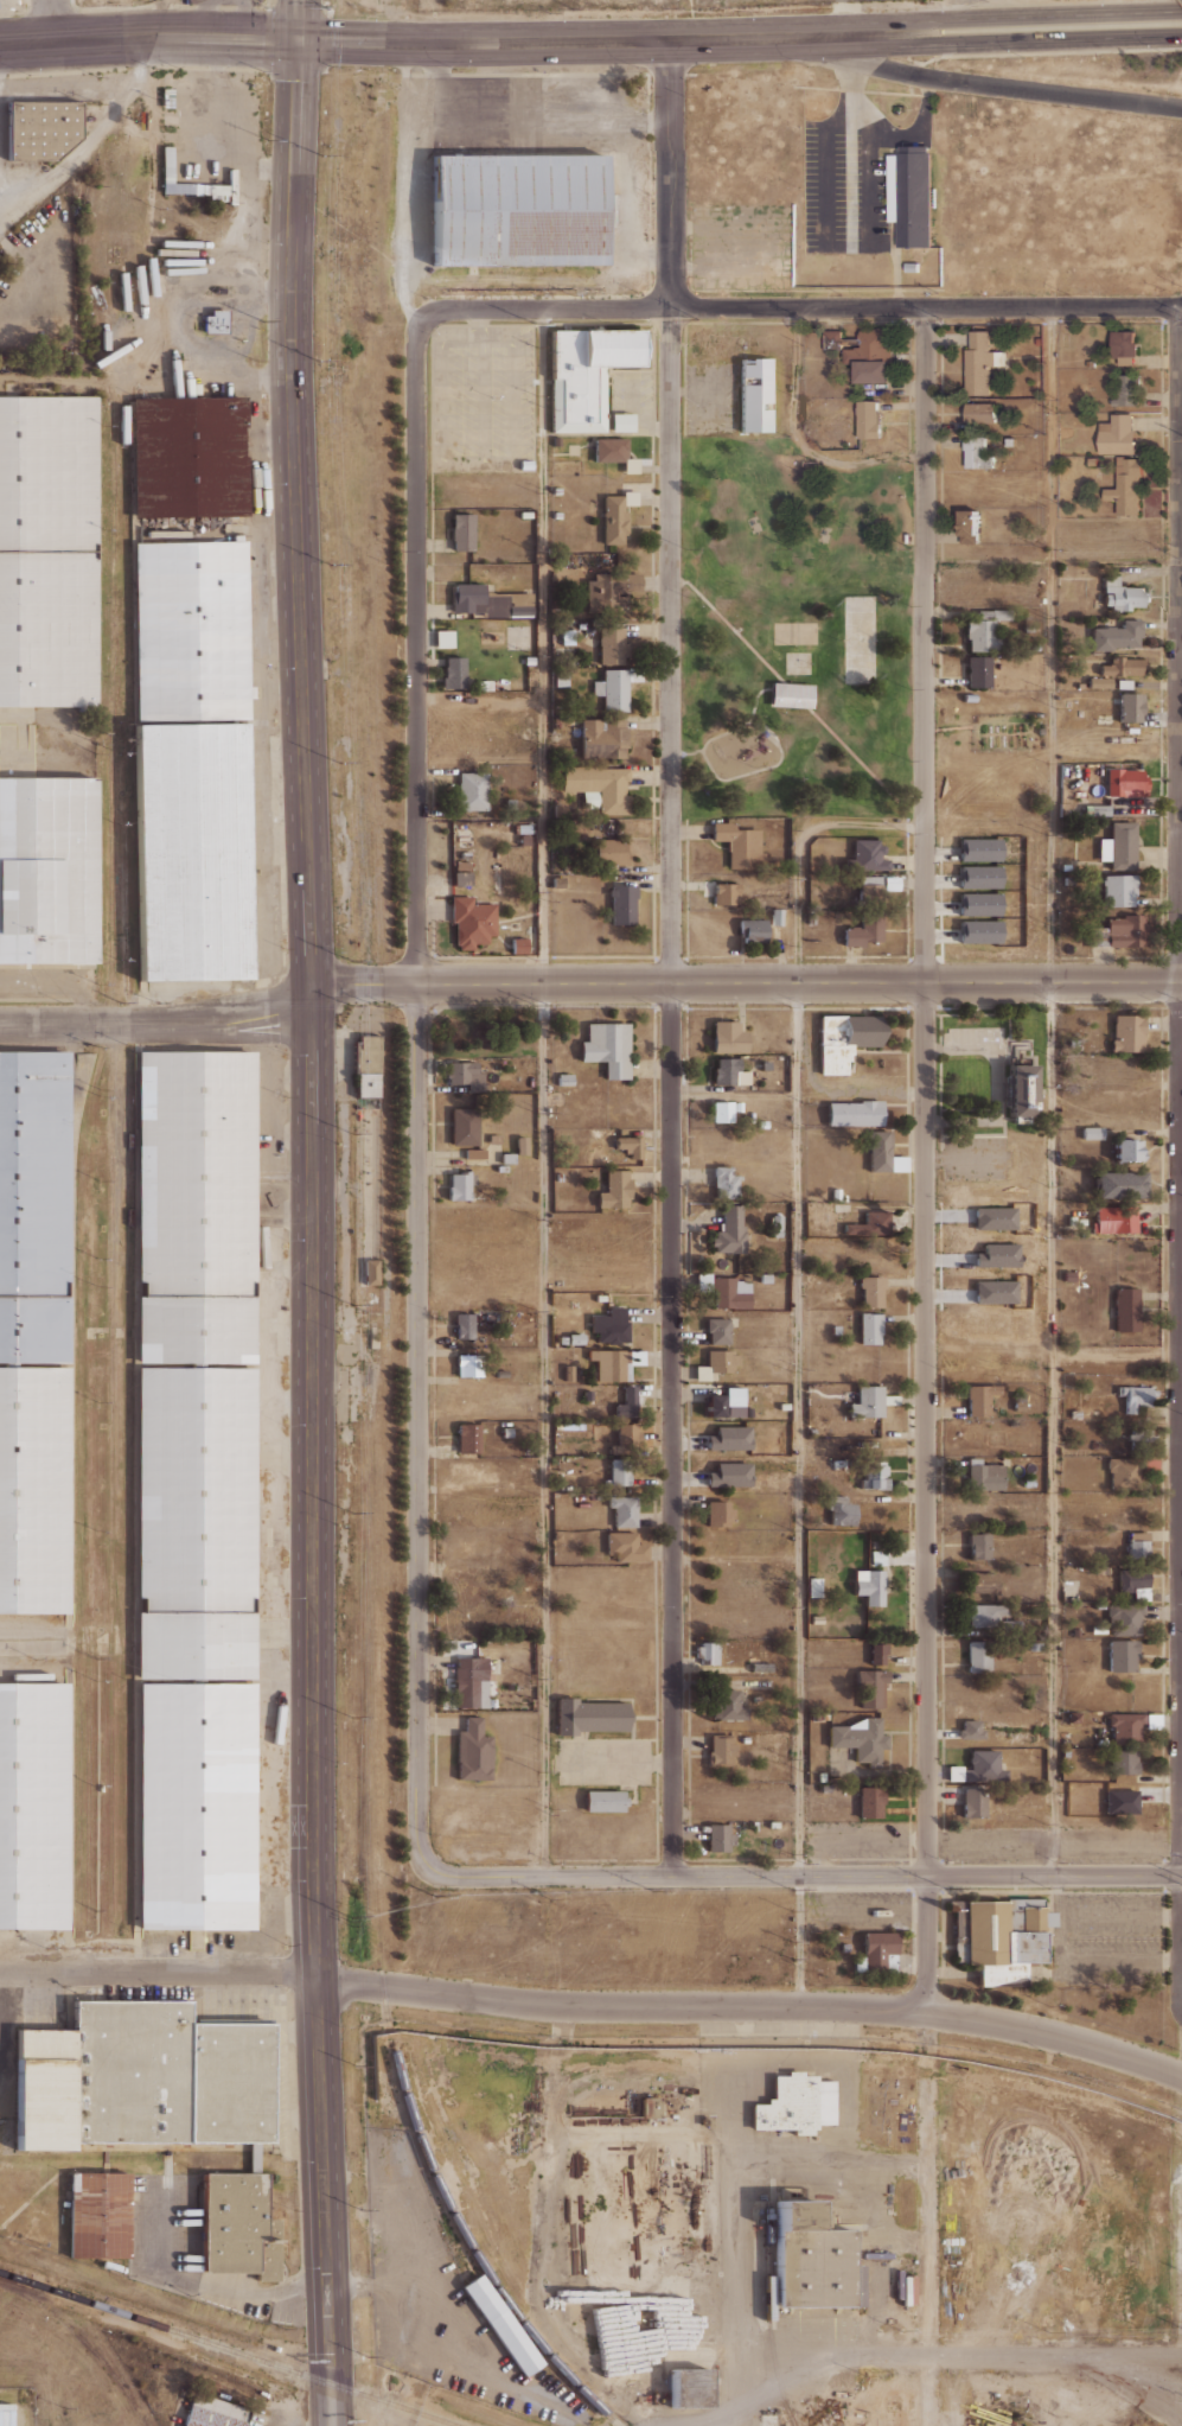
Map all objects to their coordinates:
road: (999, 17)
road: (52, 19)
road: (299, 19)
road: (149, 36)
road: (745, 37)
traffic signals: (300, 38)
road: (485, 42)
road: (999, 42)
road: (996, 85)
road: (877, 121)
road: (515, 123)
building: (44, 132)
building: (167, 165)
road: (670, 173)
parking lot: (842, 192)
building: (912, 195)
building: (531, 210)
road: (841, 249)
building: (916, 259)
road: (1180, 303)
road: (924, 307)
road: (543, 308)
building: (215, 321)
building: (226, 324)
building: (1037, 340)
building: (861, 345)
building: (1123, 346)
building: (979, 362)
building: (1090, 363)
building: (729, 369)
building: (873, 371)
building: (587, 373)
building: (1126, 390)
building: (1037, 393)
building: (756, 395)
building: (980, 413)
building: (868, 419)
building: (621, 421)
building: (1010, 427)
building: (1117, 435)
road: (799, 439)
building: (556, 440)
building: (1010, 442)
building: (614, 453)
building: (977, 453)
building: (189, 460)
building: (1092, 461)
building: (524, 464)
building: (1126, 488)
building: (556, 490)
road: (302, 514)
building: (525, 514)
building: (556, 514)
building: (616, 516)
building: (970, 526)
building: (461, 530)
building: (47, 550)
building: (611, 587)
building: (1122, 594)
building: (468, 597)
building: (507, 604)
building: (993, 613)
building: (581, 625)
building: (191, 629)
building: (589, 629)
park: (794, 631)
park: (792, 632)
building: (568, 633)
building: (980, 636)
building: (1117, 637)
building: (443, 638)
park: (858, 638)
road: (1178, 642)
building: (611, 645)
building: (1035, 647)
building: (564, 650)
building: (529, 660)
park: (797, 661)
building: (569, 662)
building: (1122, 666)
building: (453, 673)
building: (975, 673)
building: (561, 677)
building: (1099, 682)
building: (1124, 683)
building: (485, 684)
building: (1080, 684)
building: (616, 687)
building: (792, 694)
building: (969, 696)
building: (1130, 706)
building: (557, 721)
building: (1040, 730)
building: (603, 738)
building: (1125, 782)
building: (600, 783)
building: (472, 789)
building: (509, 803)
building: (560, 809)
building: (1095, 810)
building: (523, 828)
building: (525, 839)
building: (737, 843)
building: (1123, 845)
building: (979, 848)
building: (1104, 849)
building: (194, 852)
building: (611, 852)
building: (465, 854)
building: (873, 855)
building: (462, 865)
building: (1066, 866)
building: (568, 867)
building: (49, 870)
building: (979, 875)
building: (461, 878)
building: (558, 881)
building: (870, 883)
building: (892, 883)
building: (1118, 889)
building: (724, 893)
building: (979, 903)
building: (622, 904)
building: (777, 917)
building: (472, 921)
building: (750, 928)
building: (863, 929)
building: (531, 930)
building: (1125, 930)
building: (979, 931)
building: (519, 945)
road: (747, 981)
road: (1181, 981)
road: (160, 1021)
building: (1126, 1032)
building: (728, 1037)
building: (845, 1038)
building: (607, 1048)
building: (724, 1069)
building: (368, 1070)
building: (461, 1071)
building: (566, 1080)
building: (506, 1083)
road: (672, 1090)
building: (1023, 1090)
road: (1052, 1090)
road: (544, 1091)
road: (417, 1096)
building: (722, 1112)
building: (854, 1112)
building: (464, 1126)
building: (1092, 1133)
building: (630, 1144)
building: (522, 1145)
building: (1126, 1150)
building: (485, 1152)
building: (883, 1154)
building: (507, 1158)
road: (925, 1160)
building: (503, 1167)
building: (558, 1176)
building: (724, 1180)
building: (1119, 1184)
building: (460, 1185)
building: (614, 1186)
building: (836, 1193)
building: (842, 1197)
building: (33, 1205)
building: (197, 1206)
building: (860, 1206)
building: (1113, 1218)
building: (1072, 1220)
building: (1080, 1222)
building: (869, 1224)
building: (727, 1230)
building: (371, 1271)
building: (1068, 1275)
building: (870, 1291)
building: (730, 1292)
building: (1126, 1310)
building: (462, 1325)
building: (613, 1327)
building: (869, 1327)
building: (835, 1329)
building: (717, 1330)
building: (576, 1337)
building: (563, 1339)
road: (799, 1357)
building: (722, 1362)
building: (469, 1364)
building: (612, 1364)
building: (503, 1373)
building: (568, 1373)
building: (588, 1394)
building: (735, 1396)
building: (1135, 1396)
building: (979, 1397)
building: (890, 1400)
building: (869, 1401)
building: (626, 1405)
building: (1018, 1405)
building: (713, 1406)
building: (1074, 1413)
road: (1180, 1427)
building: (506, 1430)
building: (811, 1432)
building: (468, 1437)
building: (1141, 1438)
building: (729, 1439)
building: (625, 1440)
building: (838, 1463)
building: (1150, 1466)
building: (619, 1471)
building: (1124, 1472)
building: (731, 1473)
building: (873, 1473)
building: (984, 1475)
building: (1028, 1482)
building: (34, 1490)
building: (841, 1509)
building: (624, 1510)
building: (718, 1513)
building: (196, 1522)
building: (1138, 1545)
building: (627, 1546)
building: (979, 1546)
building: (892, 1556)
building: (1132, 1578)
building: (983, 1583)
building: (869, 1585)
building: (814, 1587)
building: (1141, 1593)
building: (1099, 1605)
building: (983, 1615)
building: (1125, 1618)
building: (816, 1619)
building: (1098, 1629)
building: (707, 1651)
building: (876, 1654)
building: (978, 1655)
building: (1122, 1655)
building: (761, 1667)
building: (469, 1682)
building: (873, 1687)
building: (756, 1698)
building: (728, 1704)
road: (318, 1707)
building: (816, 1715)
building: (594, 1717)
building: (1074, 1717)
building: (1125, 1727)
building: (969, 1728)
building: (857, 1738)
building: (746, 1739)
building: (1101, 1742)
building: (471, 1750)
building: (720, 1751)
building: (1066, 1752)
railway: (375, 1757)
building: (1124, 1762)
building: (983, 1766)
building: (953, 1772)
building: (822, 1777)
building: (825, 1788)
building: (603, 1800)
building: (971, 1801)
building: (873, 1802)
building: (33, 1803)
building: (715, 1804)
building: (198, 1806)
building: (773, 1823)
building: (715, 1836)
parking lot: (857, 1839)
parking lot: (995, 1845)
parking lot: (1108, 1845)
road: (1181, 1873)
road: (799, 1874)
parking lot: (860, 1909)
road: (1117, 1915)
road: (1180, 1924)
building: (1001, 1936)
parking lot: (1111, 1937)
building: (878, 1953)
road: (1075, 1959)
road: (158, 1972)
road: (752, 2006)
building: (161, 2105)
building: (796, 2105)
building: (650, 2107)
building: (705, 2120)
building: (101, 2214)
road: (741, 2240)
building: (811, 2259)
road: (926, 2269)
railway: (767, 2316)
building: (500, 2324)
railway: (84, 2341)
railway: (226, 2350)
building: (689, 2387)
building: (213, 2412)

